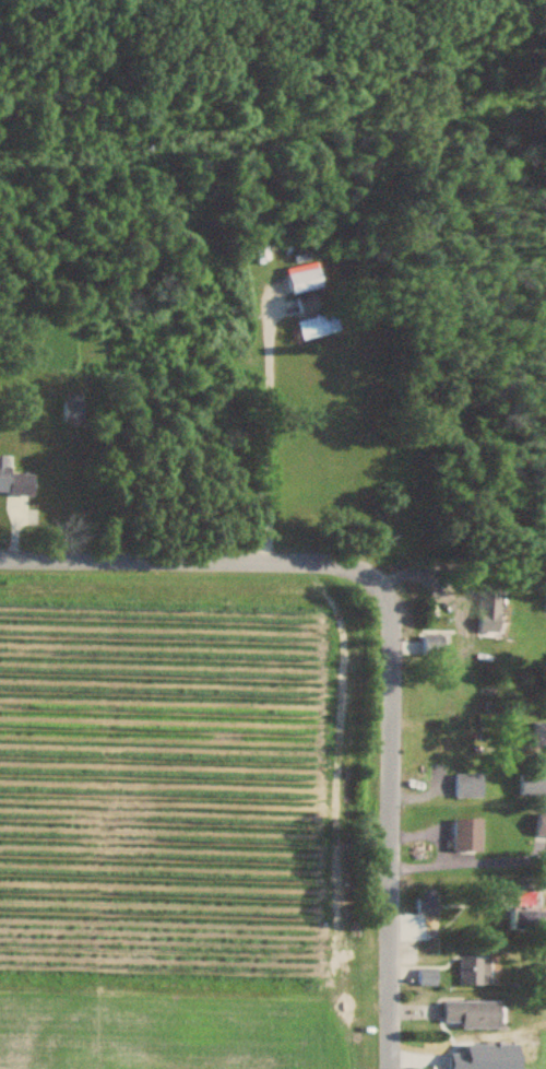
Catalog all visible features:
building: (304, 282)
building: (307, 306)
building: (317, 328)
building: (72, 409)
road: (266, 444)
building: (15, 480)
building: (484, 599)
road: (389, 635)
building: (426, 647)
building: (537, 735)
building: (530, 784)
building: (463, 786)
building: (538, 825)
road: (428, 834)
building: (461, 835)
road: (466, 862)
building: (426, 904)
building: (518, 920)
building: (472, 972)
building: (425, 977)
building: (466, 1014)

